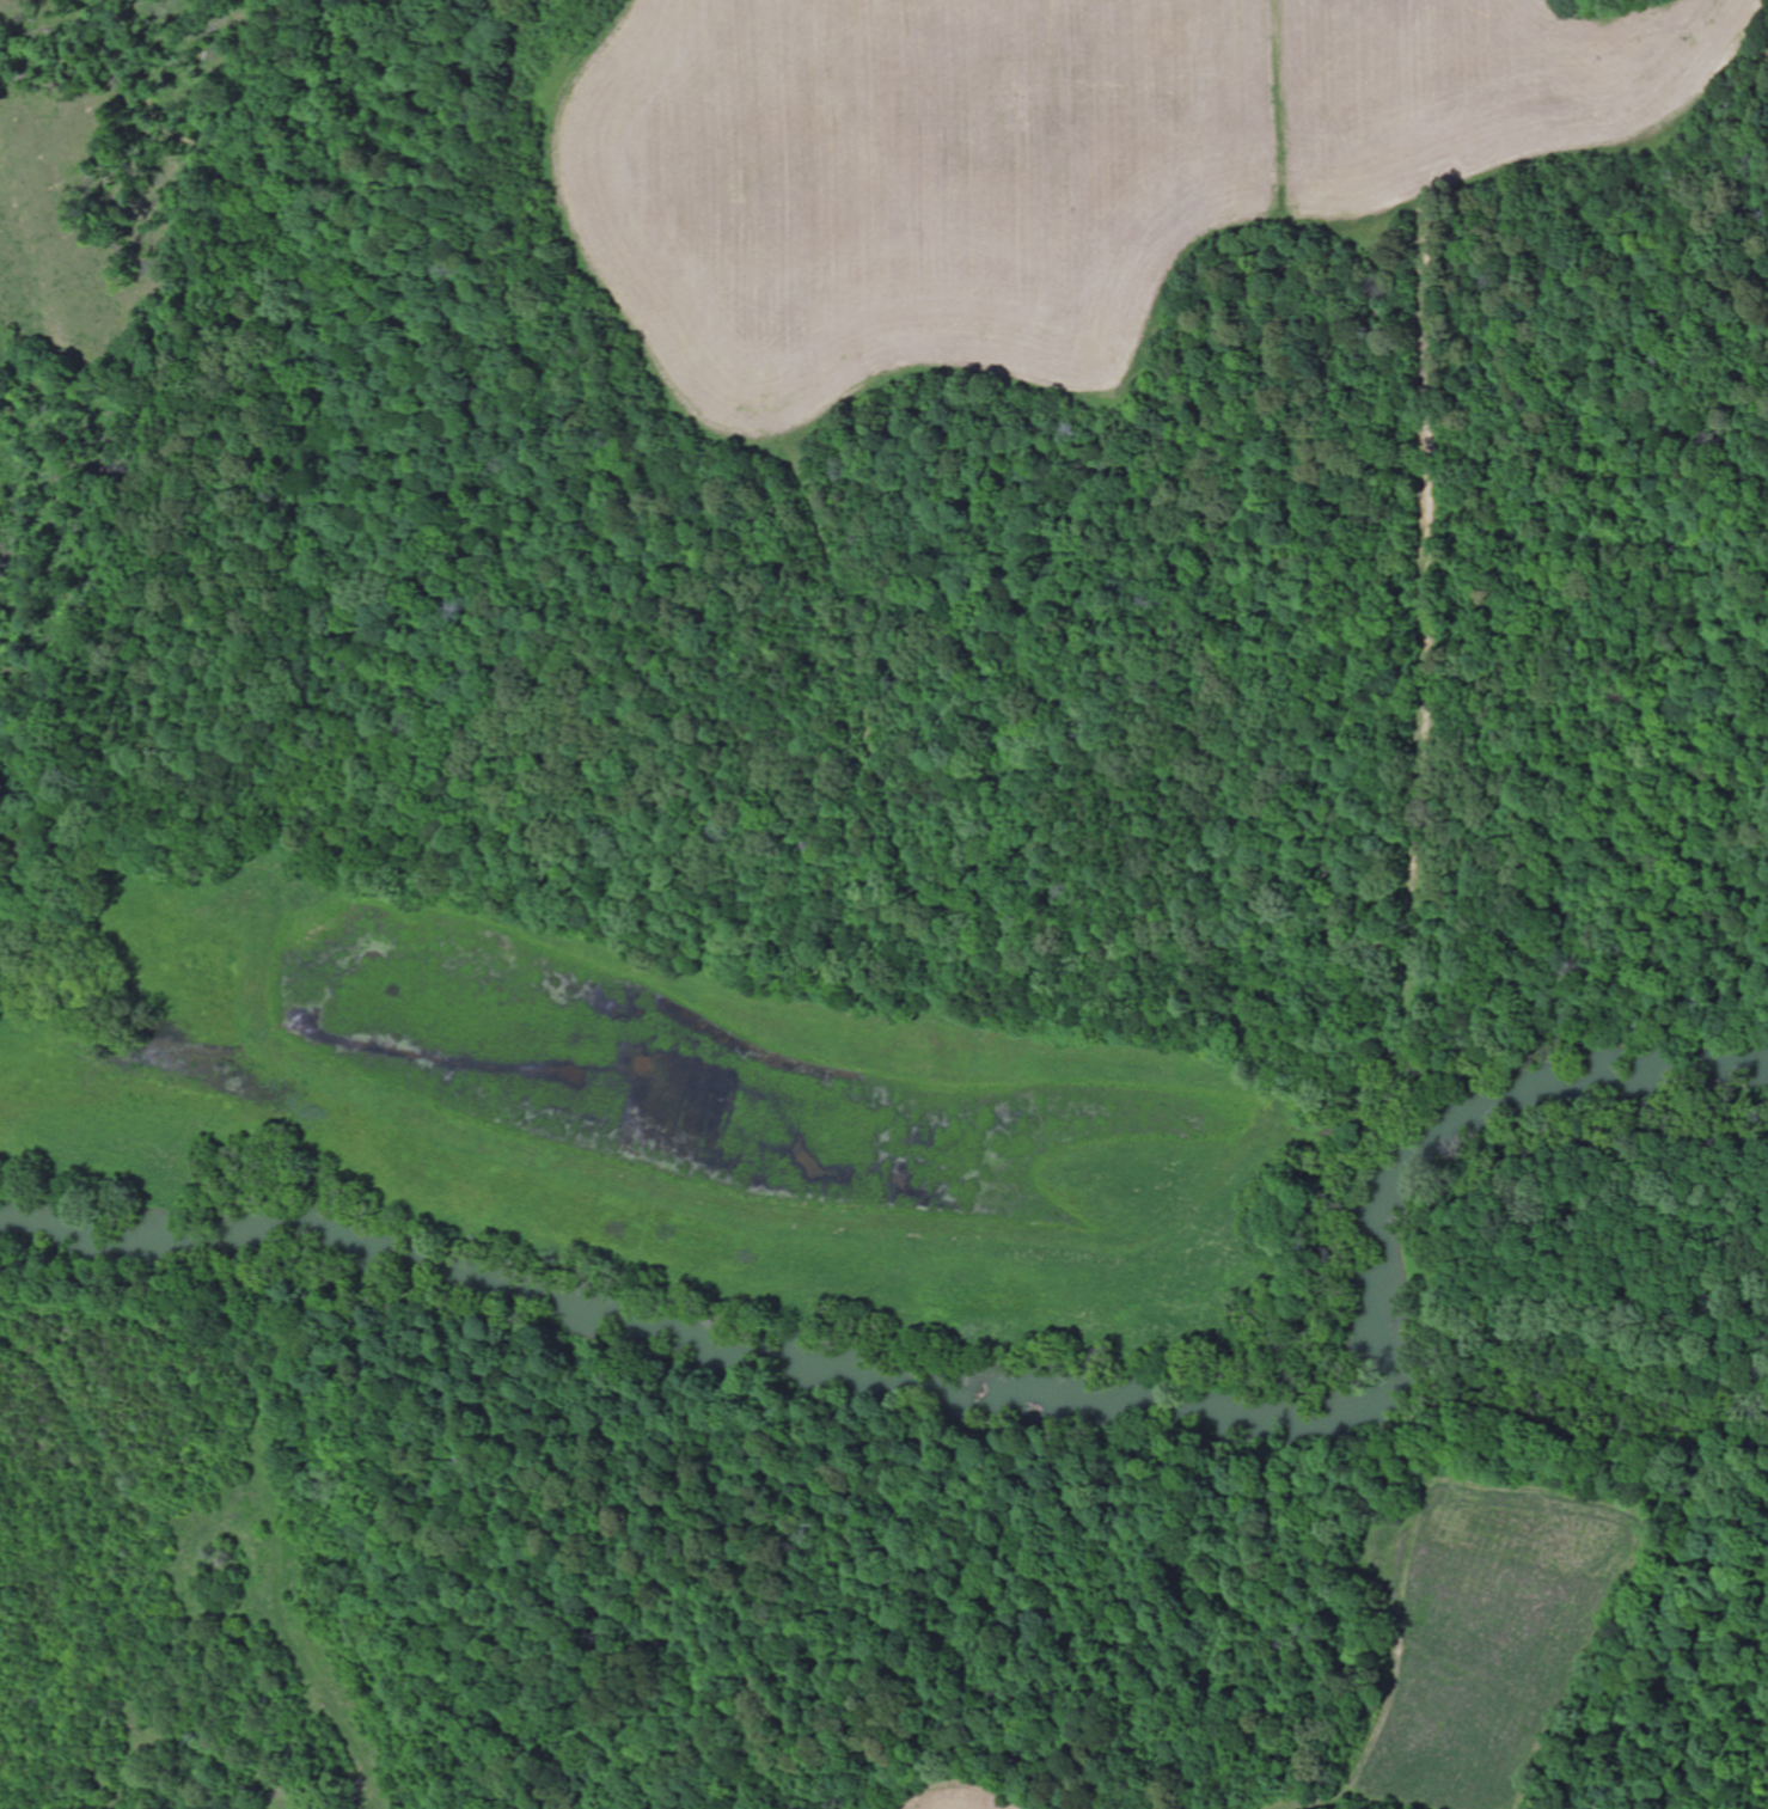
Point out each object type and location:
river: (1001, 1394)

